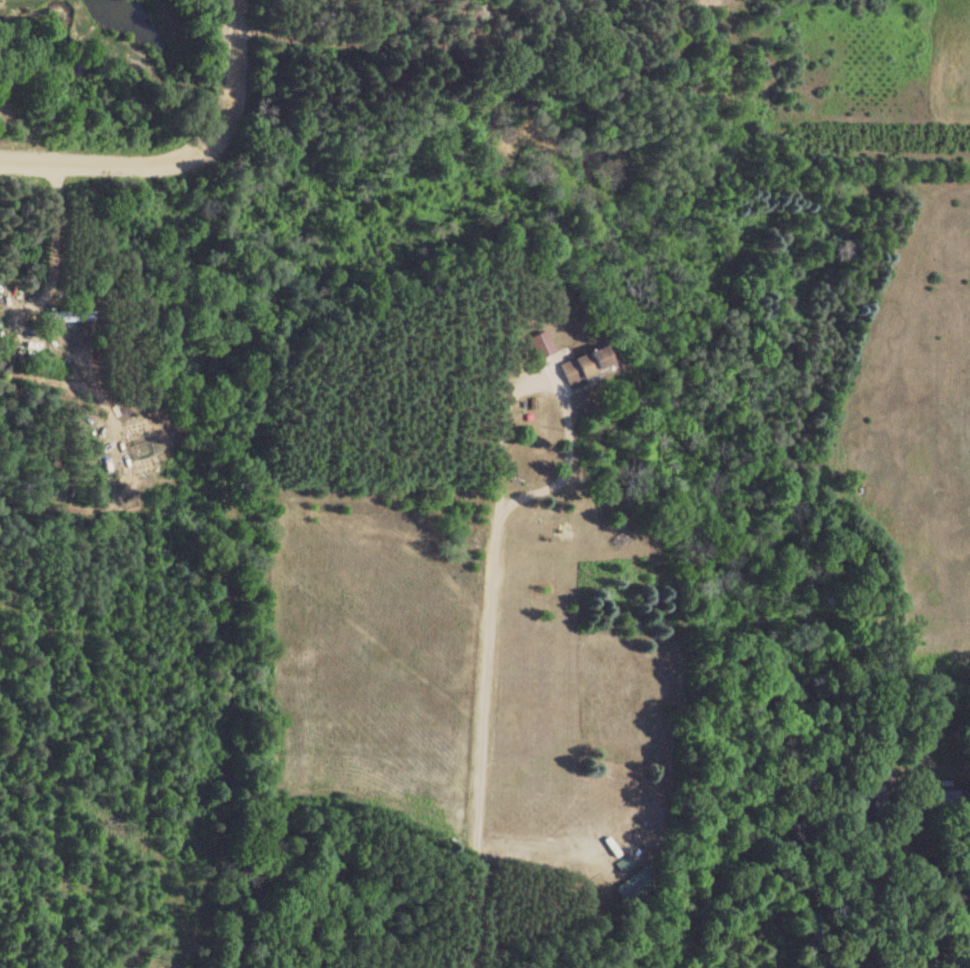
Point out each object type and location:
road: (228, 65)
road: (117, 167)
building: (70, 317)
building: (584, 365)
road: (929, 680)
road: (484, 732)
building: (635, 885)

